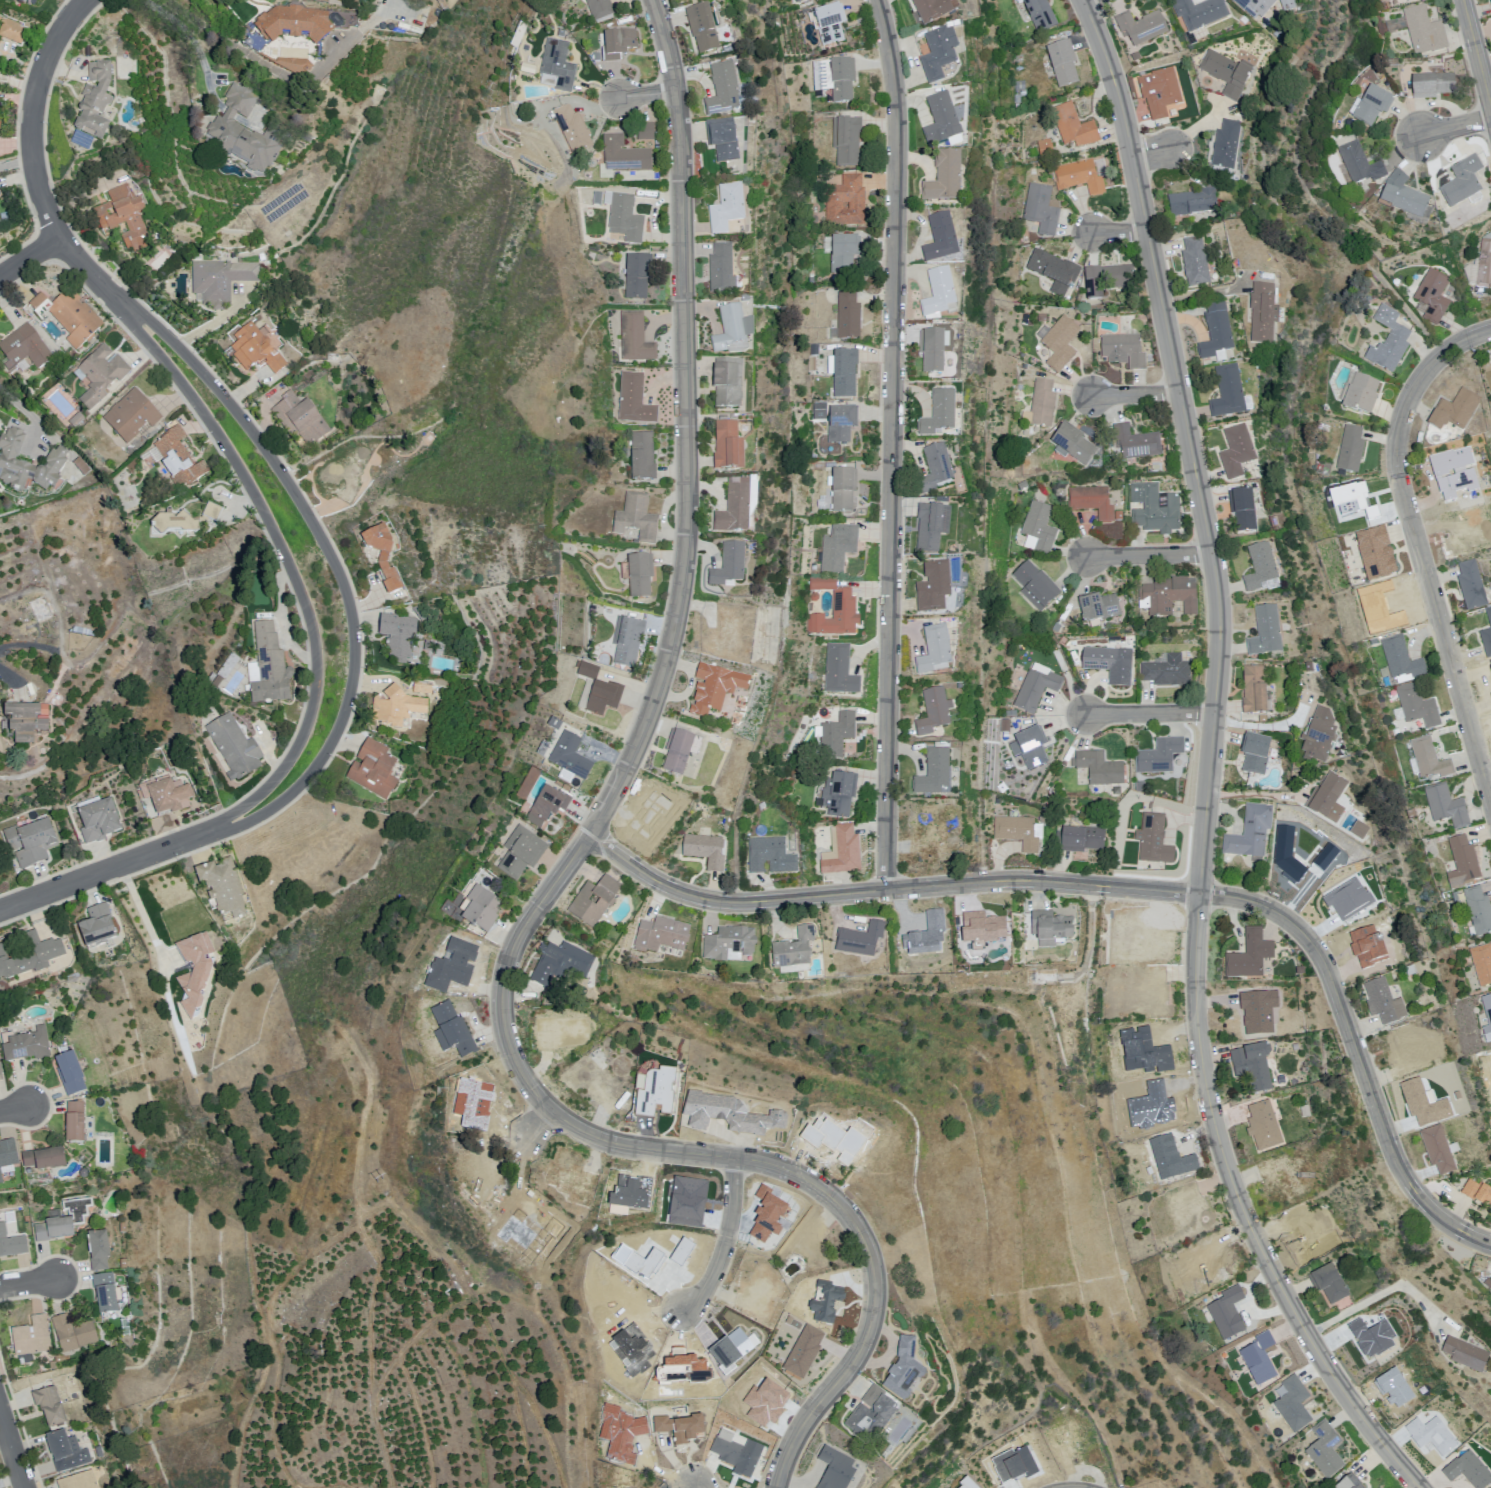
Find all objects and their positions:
building: (680, 0)
building: (790, 0)
building: (1396, 0)
building: (800, 1)
building: (1490, 1)
building: (26, 2)
road: (1088, 2)
building: (1290, 4)
building: (1257, 6)
building: (599, 8)
building: (934, 10)
building: (1199, 13)
building: (1040, 14)
building: (829, 23)
building: (1396, 24)
building: (1141, 27)
building: (702, 28)
building: (294, 29)
building: (11, 32)
building: (1427, 32)
building: (561, 33)
building: (618, 44)
road: (1476, 54)
building: (939, 55)
road: (256, 57)
building: (596, 57)
building: (1135, 57)
building: (558, 64)
building: (1062, 65)
building: (293, 67)
building: (1226, 72)
building: (834, 79)
road: (19, 82)
building: (1433, 85)
building: (723, 90)
building: (1160, 91)
road: (648, 98)
building: (94, 106)
building: (1372, 106)
building: (941, 121)
building: (1074, 126)
road: (1455, 126)
building: (572, 130)
building: (642, 131)
building: (243, 135)
building: (846, 140)
building: (724, 142)
building: (1226, 144)
building: (1045, 147)
road: (1151, 152)
building: (624, 155)
building: (1360, 164)
road: (16, 165)
road: (34, 165)
building: (1079, 177)
building: (945, 179)
building: (1462, 182)
building: (1403, 198)
building: (845, 202)
building: (1193, 202)
building: (727, 207)
building: (1040, 207)
building: (624, 216)
building: (123, 222)
road: (1119, 228)
building: (941, 239)
building: (589, 243)
building: (843, 253)
road: (29, 255)
building: (591, 255)
building: (1195, 261)
building: (1486, 264)
building: (722, 269)
building: (1054, 271)
building: (637, 277)
building: (810, 277)
building: (1108, 280)
building: (219, 284)
building: (939, 294)
building: (1433, 295)
building: (1263, 311)
building: (848, 314)
building: (1042, 317)
building: (68, 318)
building: (715, 328)
building: (733, 331)
building: (1216, 331)
building: (635, 339)
building: (1389, 340)
building: (1060, 344)
building: (25, 348)
building: (255, 349)
building: (1124, 350)
building: (932, 352)
building: (844, 373)
building: (101, 377)
building: (728, 382)
building: (1228, 391)
building: (1361, 394)
road: (1136, 395)
building: (635, 401)
building: (1042, 403)
road: (23, 406)
building: (821, 408)
building: (1454, 410)
building: (939, 414)
building: (129, 417)
building: (299, 419)
building: (841, 423)
building: (1072, 442)
building: (1133, 443)
road: (891, 444)
building: (728, 446)
building: (1350, 448)
building: (1237, 450)
building: (642, 456)
building: (175, 459)
building: (56, 461)
building: (79, 465)
building: (935, 471)
building: (339, 475)
building: (1022, 484)
building: (843, 489)
building: (1093, 502)
building: (735, 507)
building: (1155, 507)
building: (1242, 509)
building: (636, 518)
building: (181, 524)
building: (932, 528)
building: (1039, 528)
road: (1419, 543)
building: (838, 549)
road: (1150, 554)
building: (382, 559)
road: (333, 563)
road: (288, 564)
building: (729, 566)
building: (1261, 568)
building: (640, 575)
building: (1036, 585)
building: (1471, 585)
building: (934, 587)
building: (1168, 597)
building: (1099, 607)
building: (834, 609)
building: (1068, 621)
building: (1059, 627)
building: (1266, 631)
building: (1487, 635)
building: (627, 641)
building: (422, 642)
building: (935, 651)
building: (1404, 660)
building: (1110, 663)
building: (1309, 666)
building: (267, 667)
building: (588, 670)
building: (839, 670)
road: (7, 673)
building: (1170, 673)
building: (1035, 689)
building: (1257, 691)
building: (603, 697)
building: (1420, 708)
building: (394, 709)
building: (934, 712)
road: (1150, 712)
building: (1265, 719)
building: (24, 725)
building: (1005, 725)
building: (839, 733)
building: (1321, 737)
building: (1030, 748)
building: (234, 751)
building: (677, 751)
building: (1255, 752)
building: (1159, 755)
building: (570, 756)
building: (1432, 761)
road: (1210, 765)
building: (1099, 768)
building: (374, 769)
building: (934, 772)
building: (1140, 787)
building: (839, 794)
road: (1258, 795)
building: (1327, 798)
building: (165, 799)
building: (545, 806)
building: (1446, 806)
building: (95, 822)
building: (1016, 832)
building: (1250, 832)
building: (1364, 836)
building: (1079, 839)
building: (1153, 839)
building: (29, 841)
building: (704, 849)
building: (843, 851)
building: (521, 852)
building: (769, 855)
building: (1463, 863)
road: (108, 867)
road: (567, 870)
building: (223, 890)
road: (1128, 890)
building: (1458, 898)
building: (594, 900)
road: (142, 904)
building: (1480, 909)
building: (481, 910)
building: (95, 925)
building: (1050, 928)
building: (661, 935)
building: (860, 940)
building: (730, 942)
building: (923, 942)
building: (793, 949)
building: (1250, 955)
building: (30, 956)
building: (560, 963)
building: (1483, 963)
building: (1412, 970)
building: (193, 976)
building: (1386, 1002)
building: (1256, 1010)
building: (1292, 1022)
building: (452, 1032)
building: (24, 1043)
building: (1253, 1070)
building: (68, 1072)
building: (0, 1077)
building: (655, 1093)
road: (13, 1106)
building: (73, 1121)
road: (541, 1126)
building: (1441, 1150)
building: (7, 1155)
building: (42, 1158)
building: (0, 1179)
building: (1479, 1193)
building: (62, 1219)
road: (731, 1238)
building: (11, 1243)
building: (97, 1248)
road: (27, 1280)
building: (1332, 1285)
building: (103, 1291)
road: (1379, 1294)
building: (1229, 1313)
building: (786, 1318)
building: (71, 1332)
building: (30, 1336)
building: (805, 1352)
building: (1468, 1354)
building: (1259, 1366)
building: (906, 1374)
building: (1293, 1404)
building: (49, 1408)
building: (870, 1412)
building: (1437, 1435)
road: (12, 1448)
building: (1325, 1449)
building: (734, 1452)
building: (65, 1453)
building: (864, 1466)
building: (1470, 1471)
building: (78, 1481)
building: (1349, 1483)
road: (694, 1486)
road: (697, 1486)

